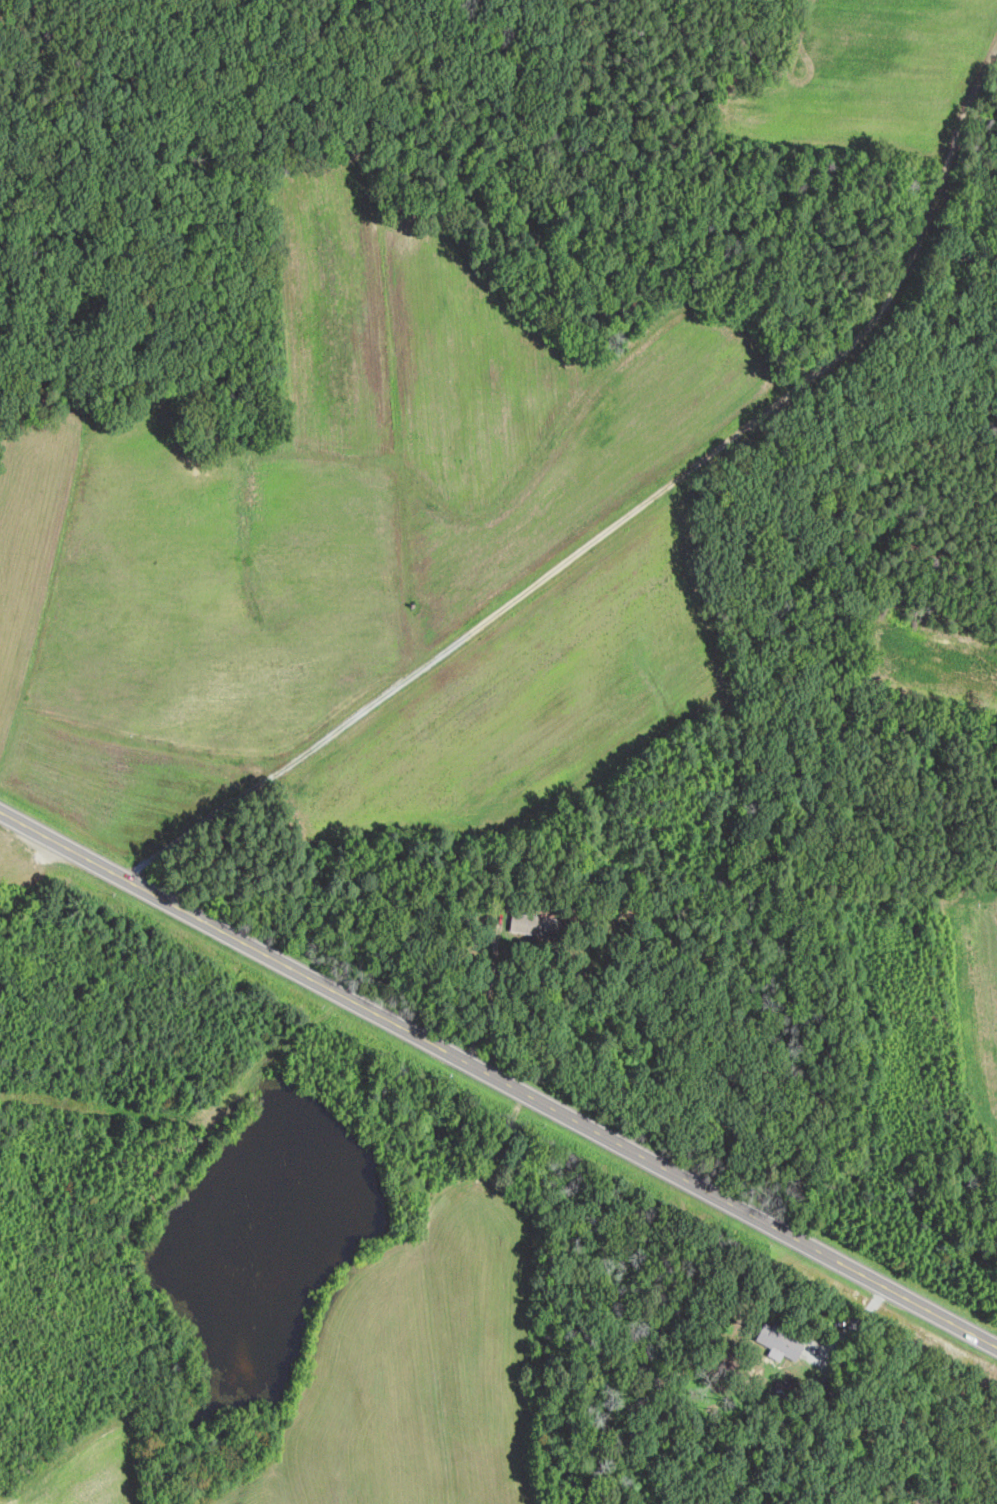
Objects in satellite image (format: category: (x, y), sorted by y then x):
road: (631, 508)
building: (524, 922)
road: (484, 1002)
road: (497, 1082)
building: (777, 1342)

